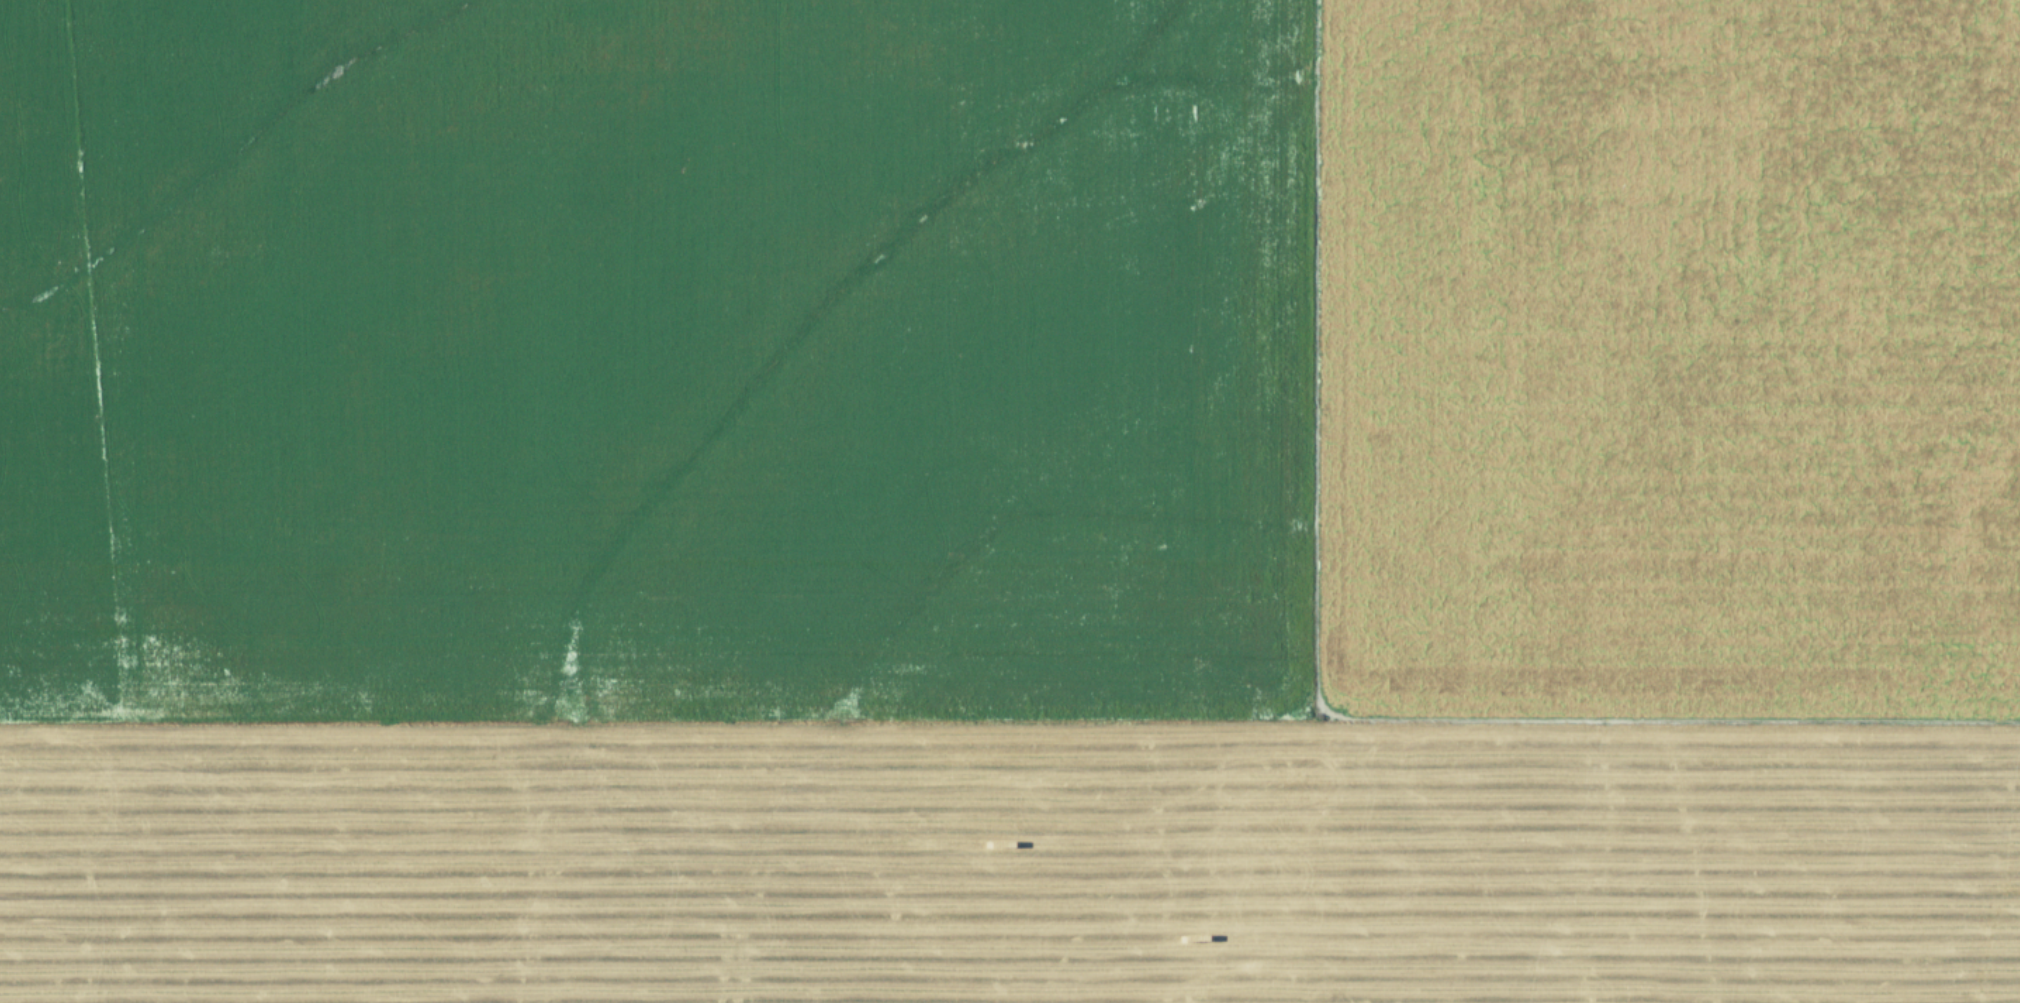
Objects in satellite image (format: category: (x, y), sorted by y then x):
crop: (1010, 501)

